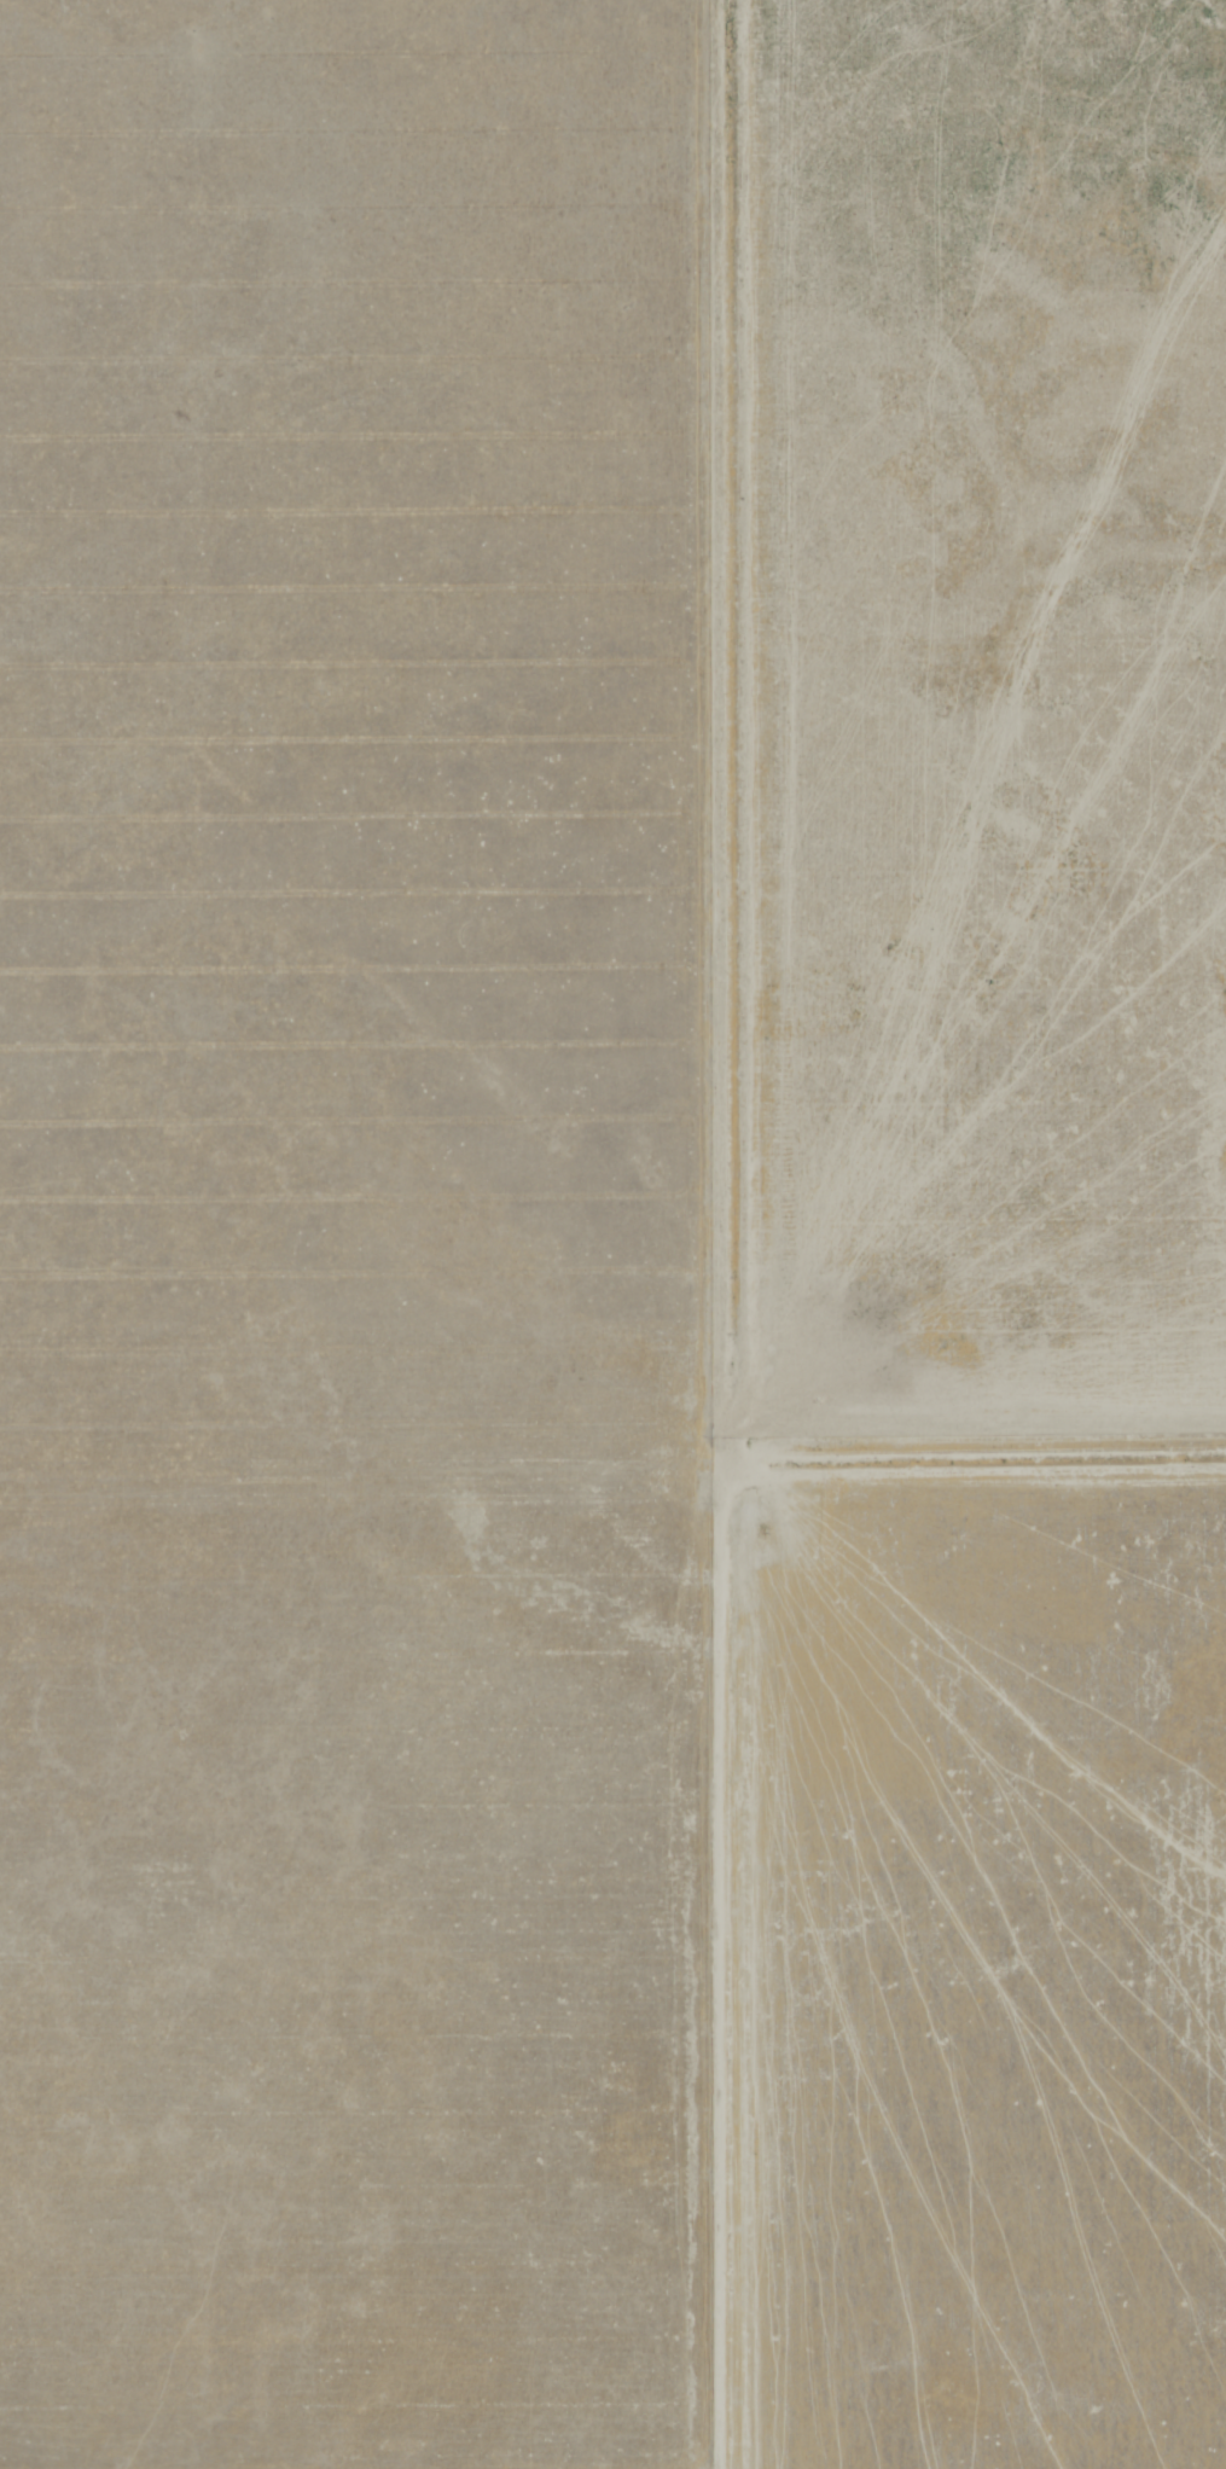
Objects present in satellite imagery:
crop: (978, 1954)

